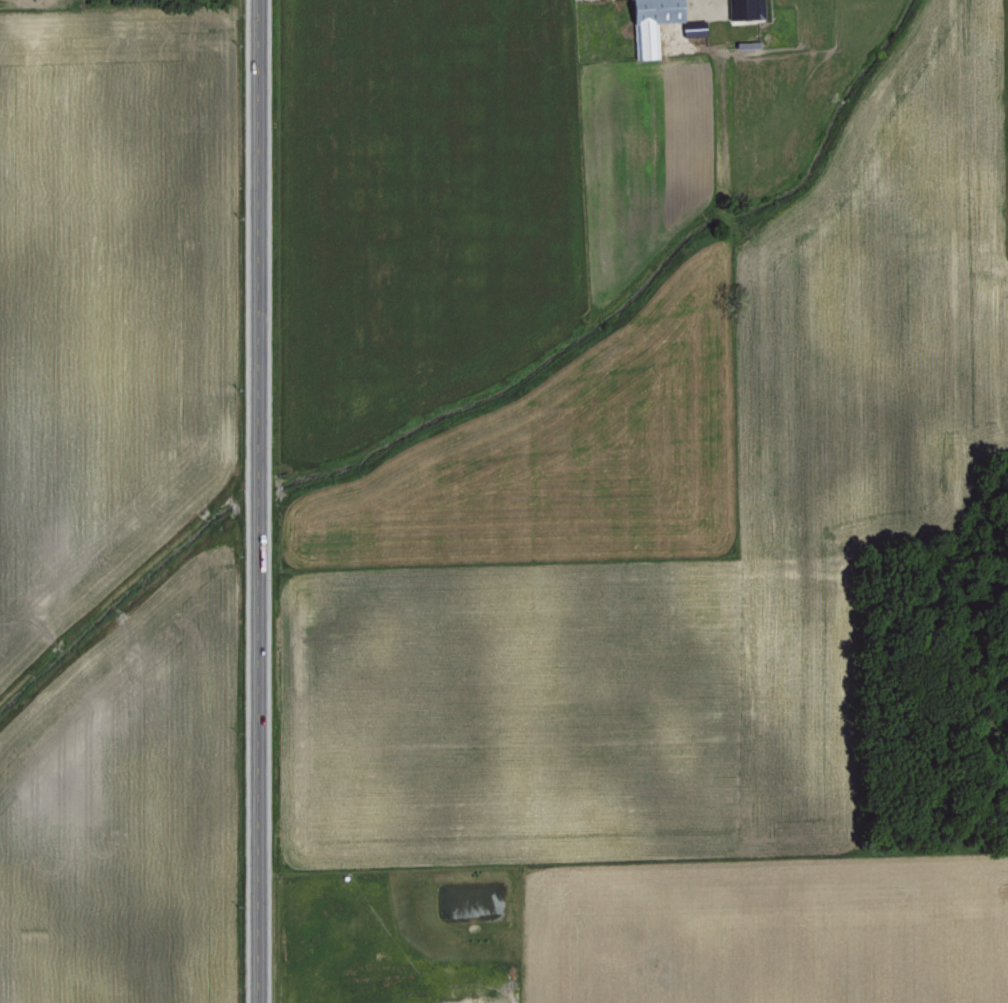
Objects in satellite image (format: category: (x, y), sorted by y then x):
building: (651, 23)
road: (256, 501)

